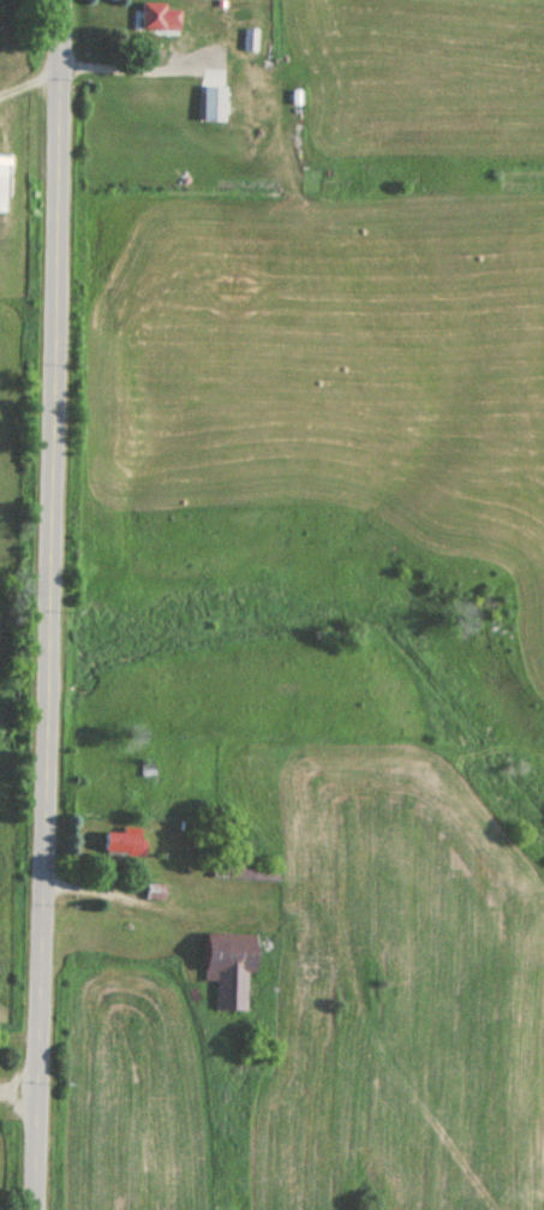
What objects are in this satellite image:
building: (159, 18)
building: (213, 105)
building: (2, 184)
road: (60, 604)
building: (119, 844)
building: (246, 872)
building: (226, 968)

